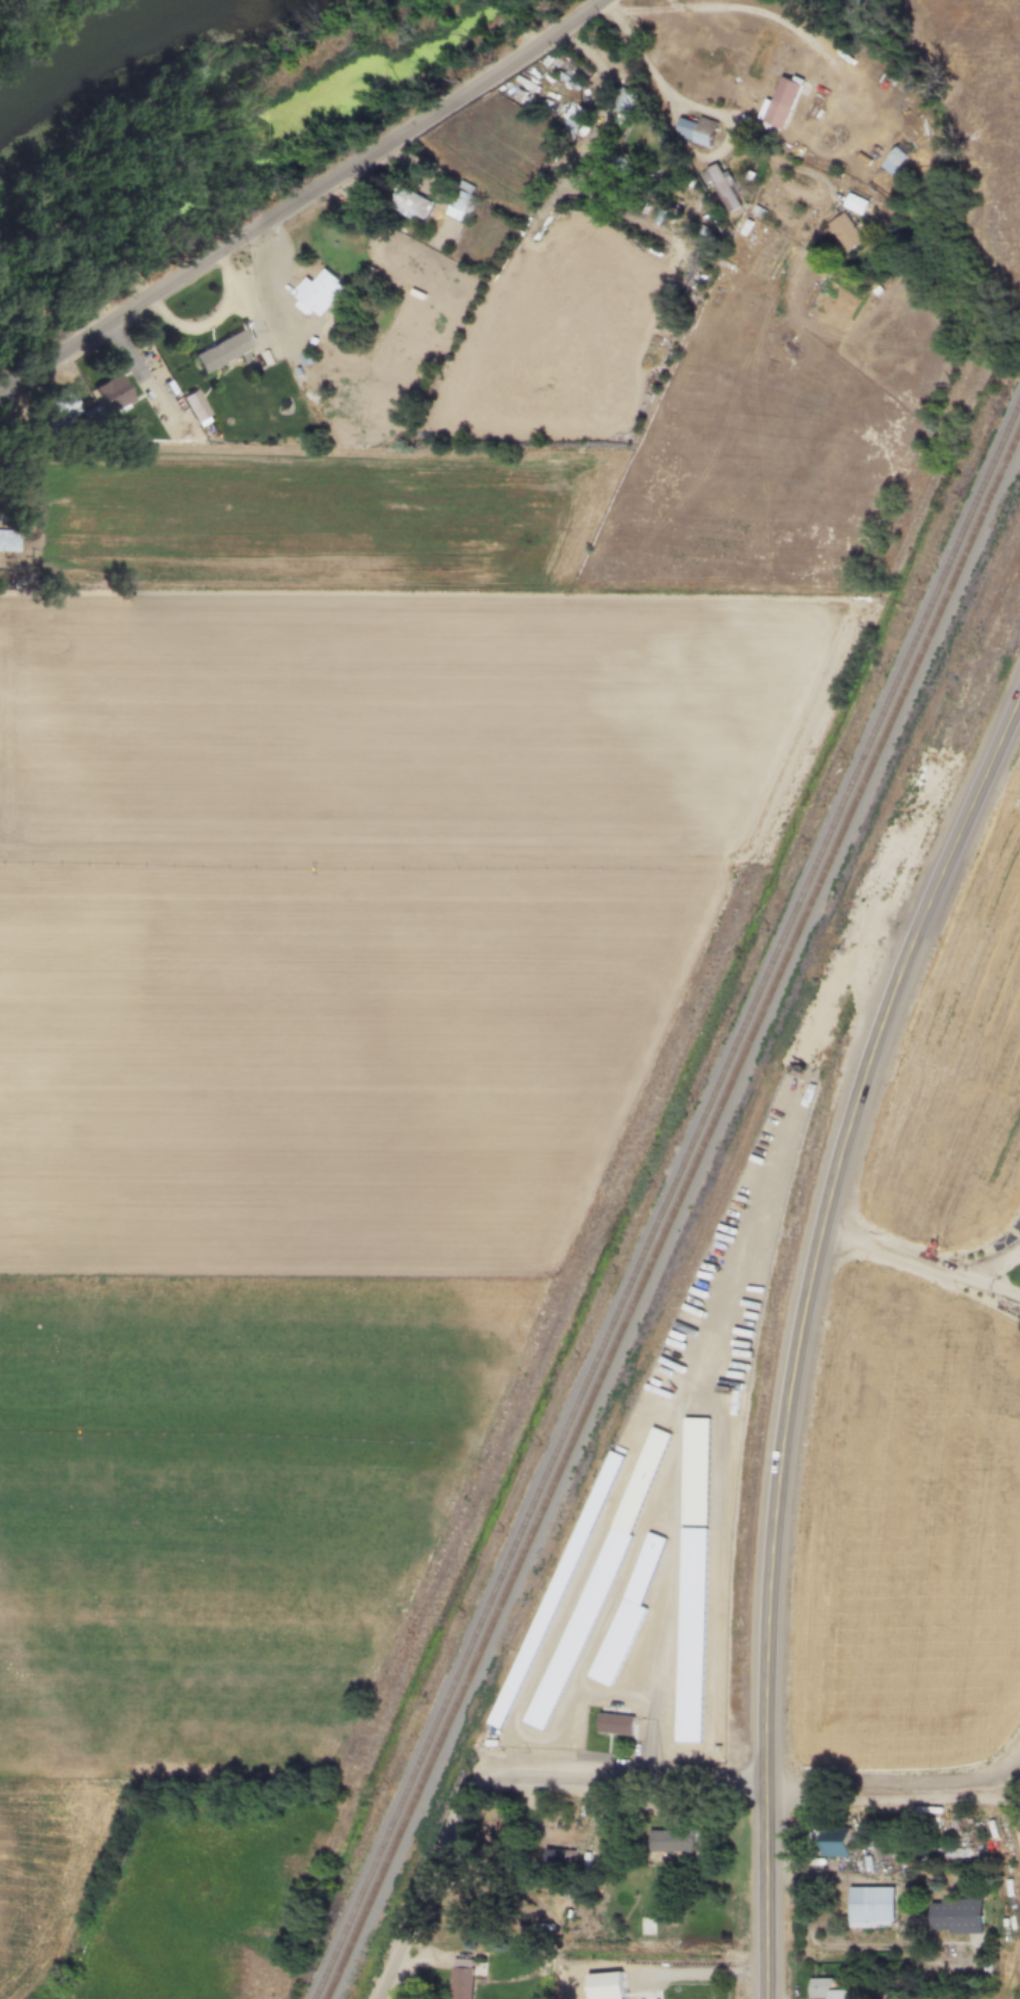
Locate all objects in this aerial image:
road: (0, 0)
building: (870, 3)
road: (773, 16)
road: (664, 77)
building: (628, 102)
building: (785, 103)
building: (581, 122)
building: (700, 131)
building: (903, 156)
building: (463, 202)
road: (311, 204)
building: (413, 205)
building: (849, 233)
building: (319, 294)
building: (224, 353)
building: (114, 395)
building: (195, 407)
building: (161, 408)
building: (62, 414)
building: (8, 541)
railway: (668, 1201)
railway: (674, 1217)
road: (931, 1269)
road: (981, 1282)
road: (809, 1337)
building: (557, 1590)
building: (579, 1629)
building: (692, 1635)
building: (617, 1642)
building: (618, 1724)
road: (496, 1770)
road: (892, 1780)
road: (1014, 1783)
building: (502, 1835)
building: (672, 1842)
building: (831, 1842)
building: (885, 1850)
building: (566, 1860)
building: (873, 1907)
building: (959, 1917)
road: (704, 1975)
building: (463, 1979)
building: (617, 1990)
building: (829, 1990)

